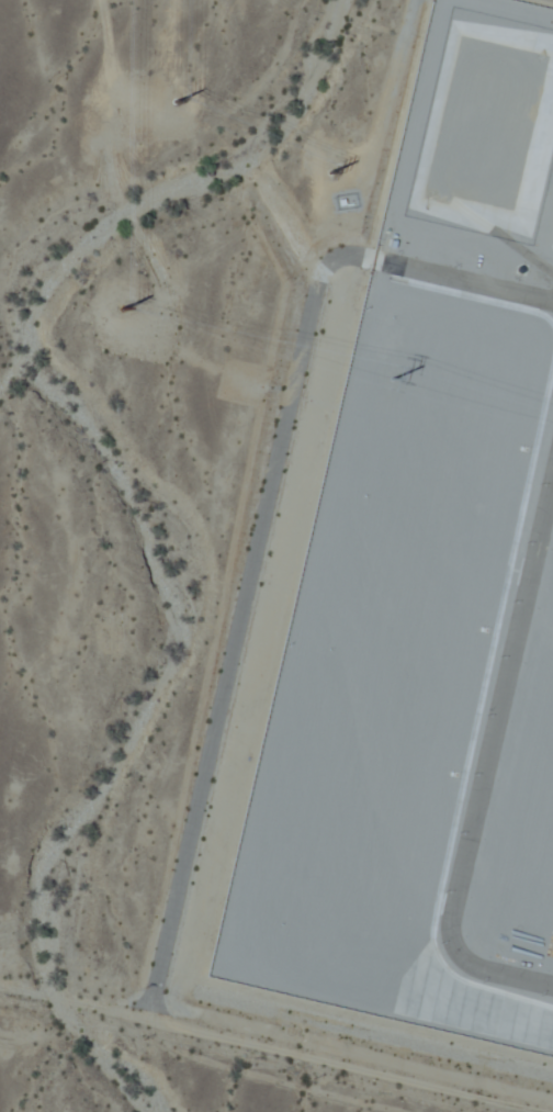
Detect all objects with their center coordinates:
power substation: (426, 589)
road: (270, 1048)

